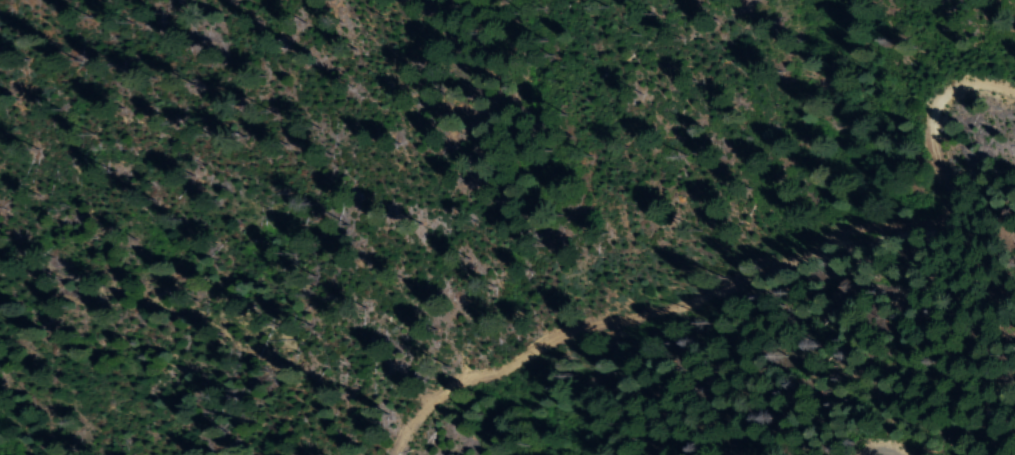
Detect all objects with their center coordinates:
road: (877, 446)

